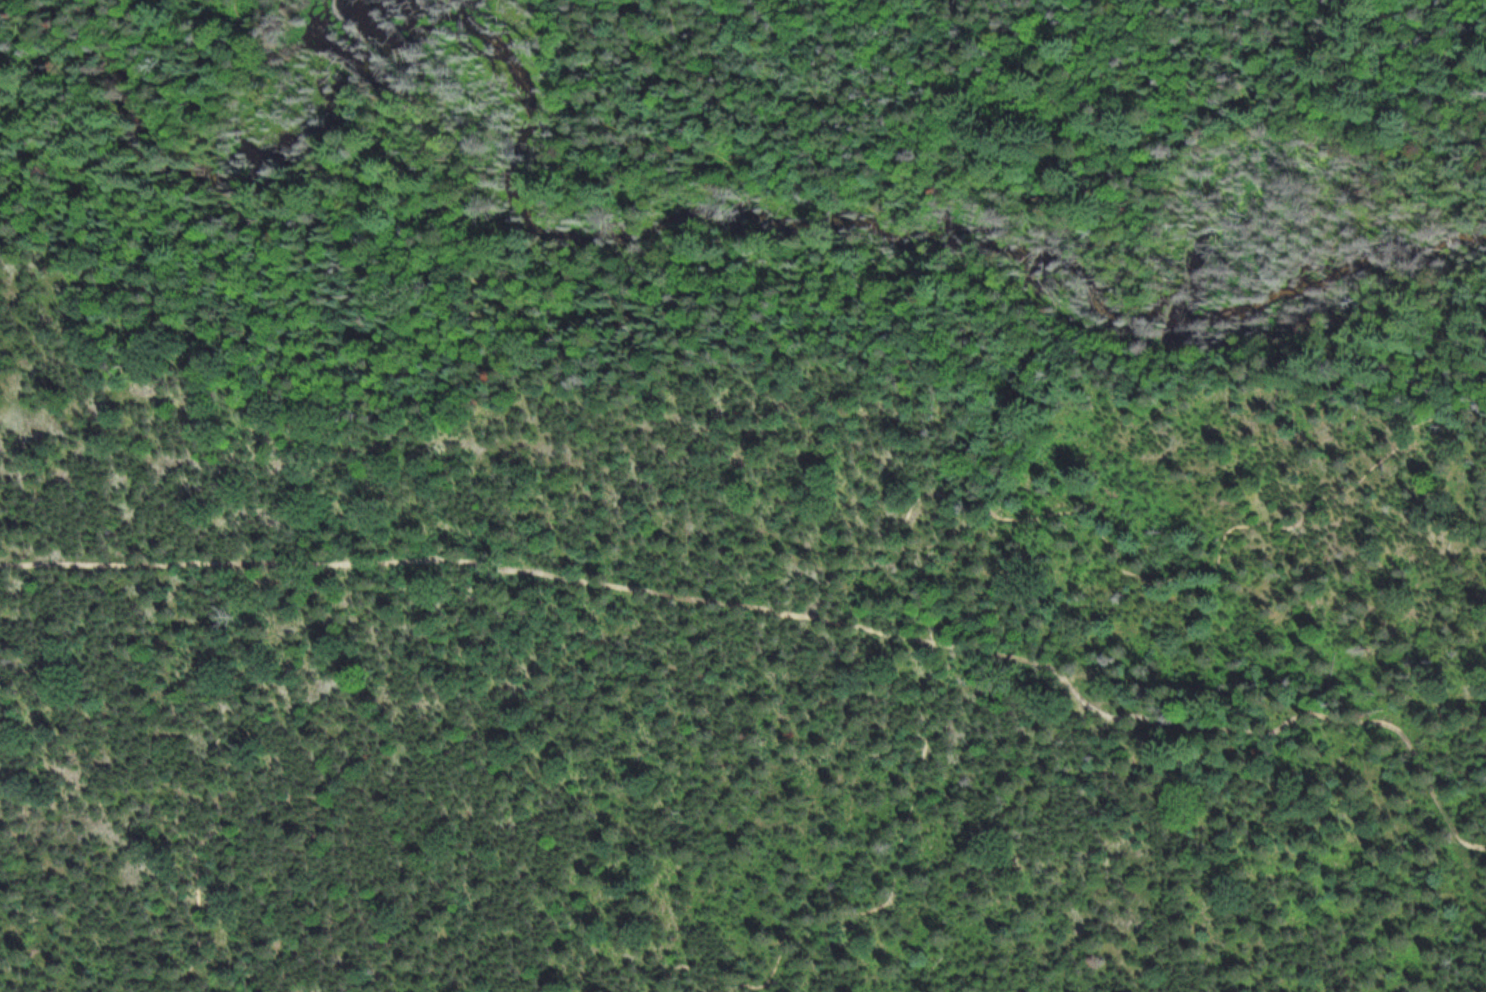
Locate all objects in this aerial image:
road: (138, 38)
road: (986, 115)
road: (920, 495)
road: (790, 610)
road: (267, 734)

